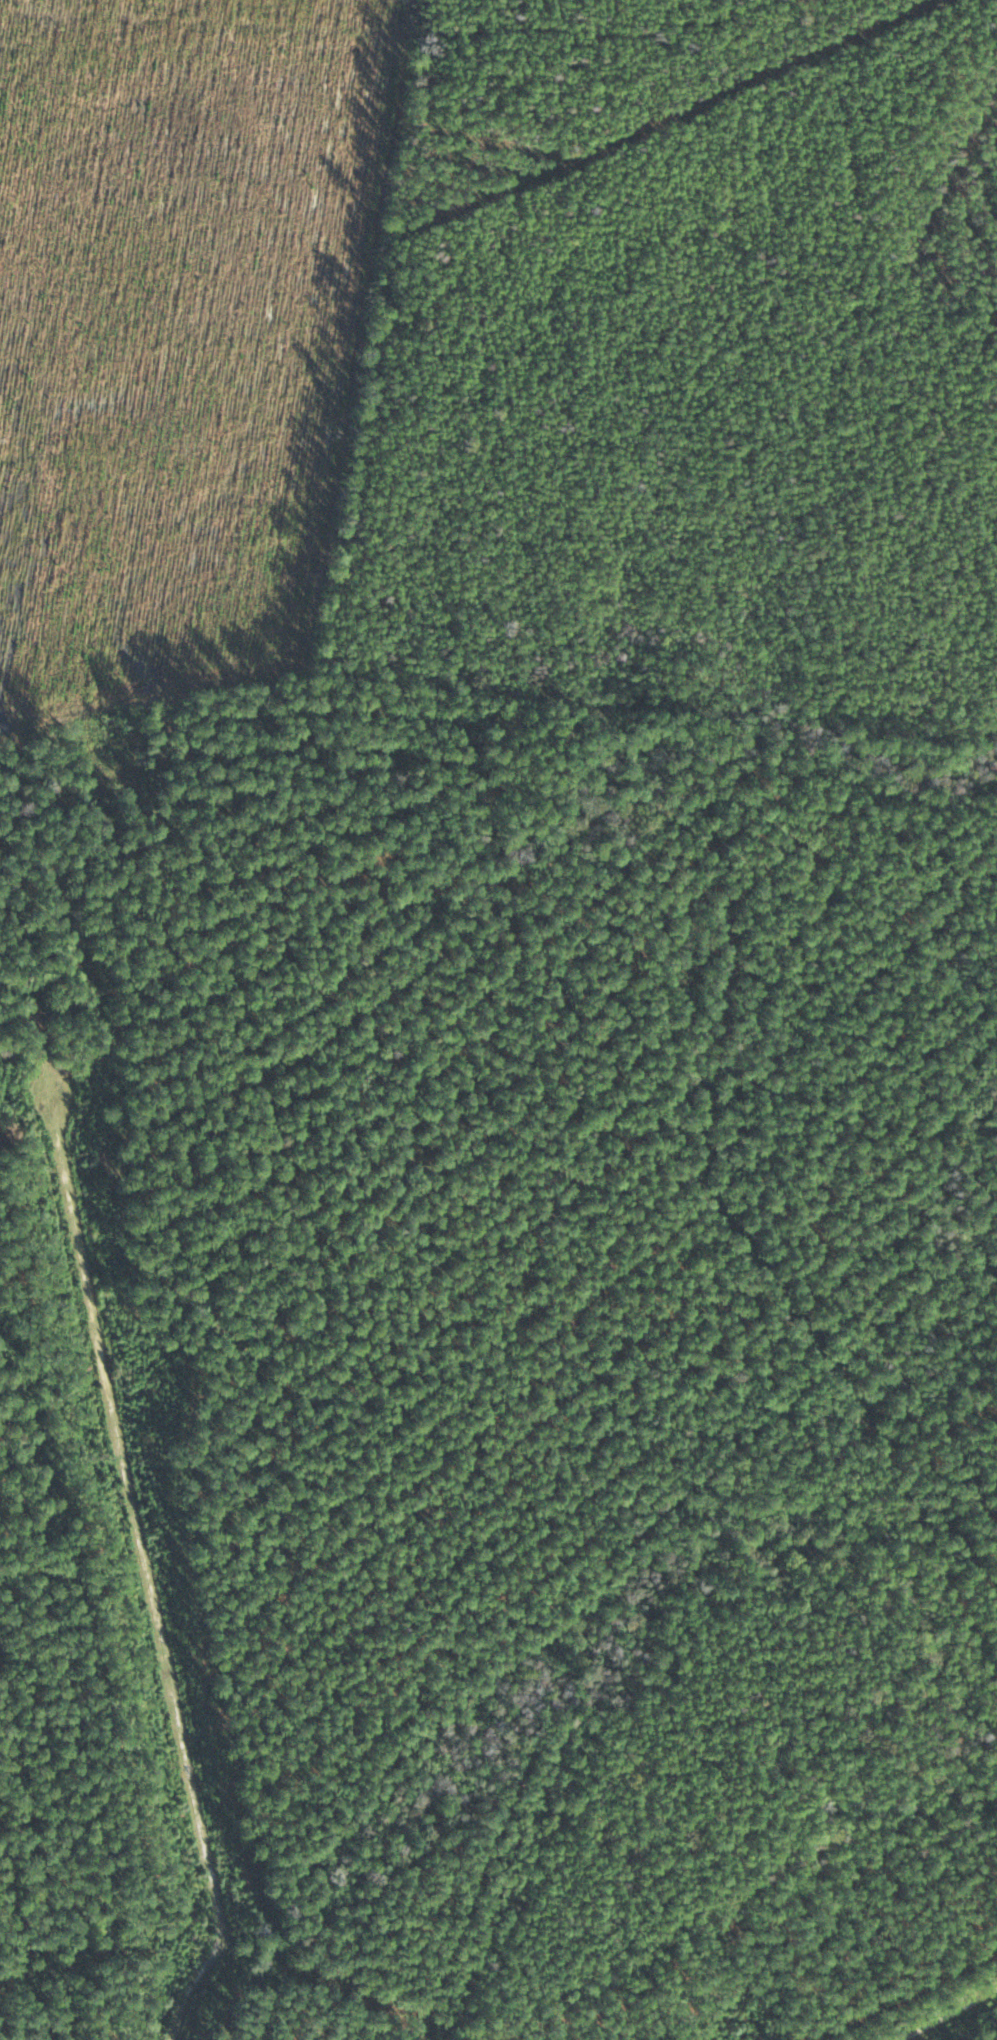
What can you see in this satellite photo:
road: (890, 1995)

